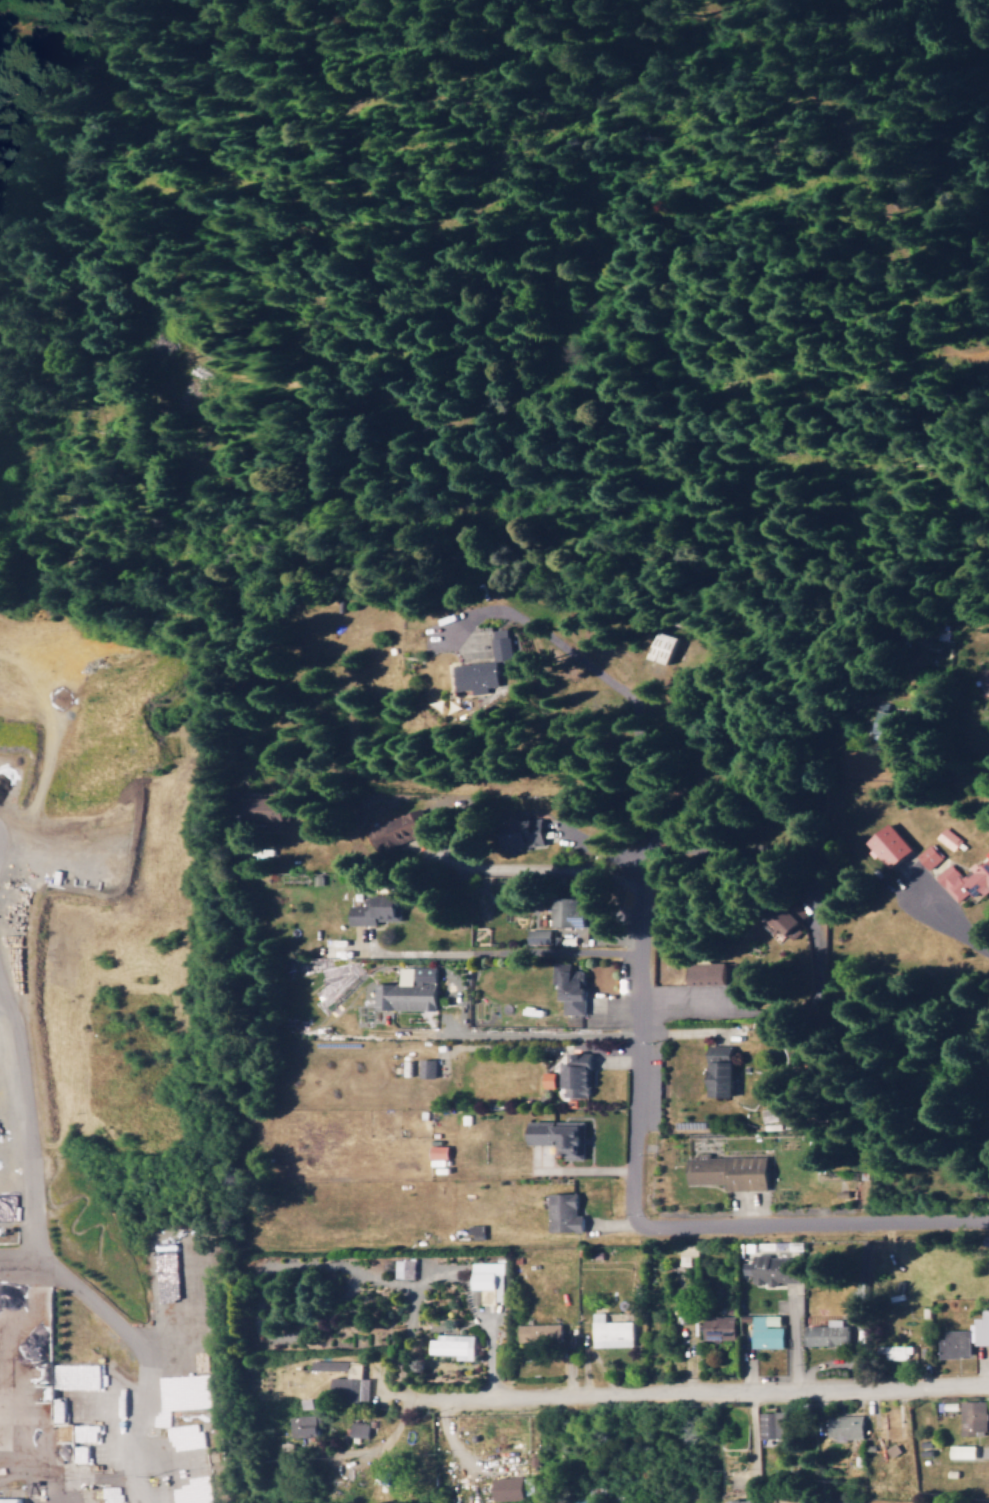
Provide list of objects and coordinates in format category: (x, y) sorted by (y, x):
building: (660, 646)
building: (486, 665)
building: (986, 679)
building: (886, 723)
building: (267, 808)
building: (395, 831)
building: (950, 838)
building: (892, 845)
road: (618, 846)
building: (931, 856)
building: (967, 879)
building: (377, 910)
building: (568, 912)
building: (786, 922)
building: (540, 936)
building: (821, 942)
building: (707, 973)
building: (571, 987)
building: (409, 989)
road: (665, 1014)
building: (429, 1067)
building: (720, 1070)
building: (577, 1072)
building: (550, 1079)
building: (771, 1114)
building: (560, 1136)
building: (440, 1151)
building: (731, 1171)
building: (565, 1212)
building: (477, 1231)
building: (181, 1268)
building: (406, 1268)
building: (774, 1268)
building: (686, 1302)
building: (720, 1327)
building: (981, 1329)
building: (613, 1331)
building: (768, 1331)
building: (541, 1332)
building: (828, 1333)
building: (957, 1343)
building: (454, 1345)
building: (899, 1351)
building: (88, 1376)
building: (349, 1382)
road: (706, 1392)
building: (974, 1416)
building: (773, 1424)
building: (305, 1425)
building: (847, 1426)
building: (360, 1429)
building: (64, 1432)
building: (97, 1435)
building: (964, 1451)
building: (200, 1454)
building: (529, 1485)
building: (192, 1486)
building: (509, 1488)
building: (741, 1501)
building: (762, 1502)

